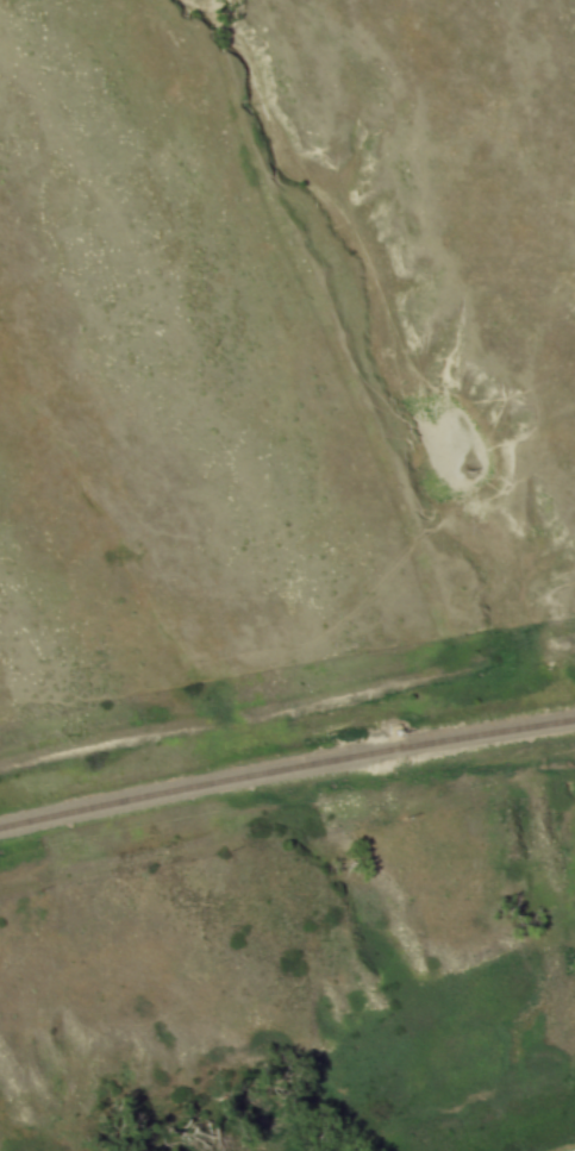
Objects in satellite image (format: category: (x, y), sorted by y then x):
railway: (286, 783)

